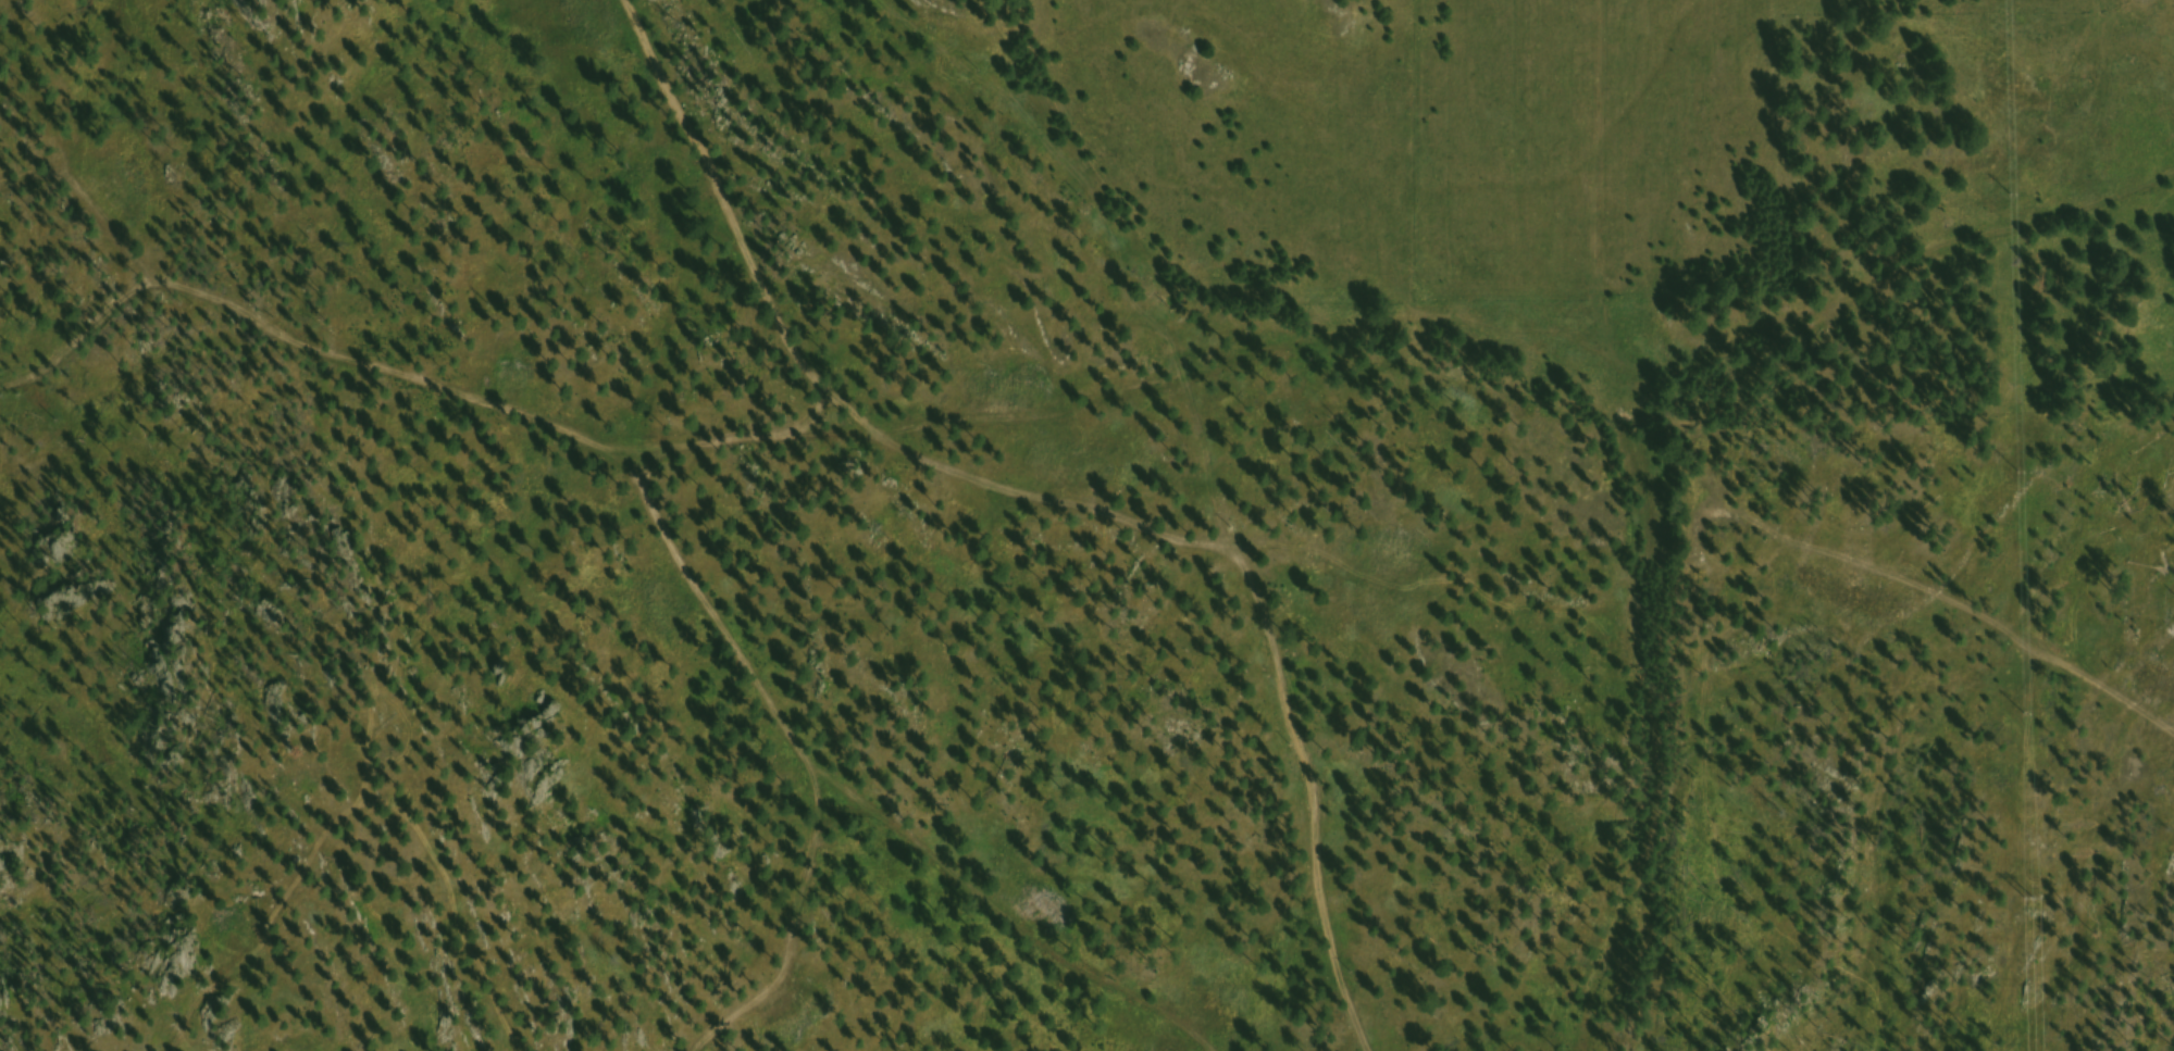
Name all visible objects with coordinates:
road: (582, 437)
road: (1417, 522)

